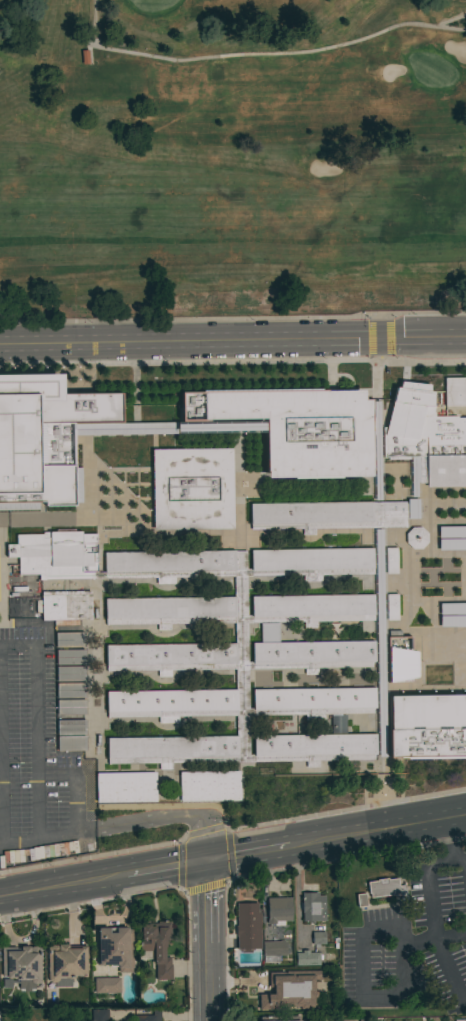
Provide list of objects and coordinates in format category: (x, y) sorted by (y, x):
road: (449, 20)
road: (426, 26)
road: (131, 53)
park: (232, 159)
road: (233, 339)
road: (232, 360)
road: (330, 375)
road: (350, 385)
building: (453, 392)
road: (134, 395)
building: (465, 398)
road: (79, 429)
road: (129, 429)
building: (301, 429)
road: (375, 430)
building: (44, 435)
building: (425, 438)
road: (393, 466)
road: (149, 468)
road: (307, 476)
road: (238, 481)
building: (192, 489)
road: (419, 489)
road: (439, 503)
road: (26, 505)
building: (412, 508)
building: (327, 516)
road: (3, 517)
road: (62, 517)
road: (431, 521)
road: (430, 528)
road: (377, 530)
building: (451, 531)
road: (374, 532)
building: (416, 537)
building: (451, 544)
road: (433, 553)
building: (55, 554)
building: (390, 561)
road: (446, 561)
building: (167, 562)
building: (310, 562)
road: (432, 569)
road: (1, 571)
road: (402, 576)
road: (463, 576)
road: (320, 578)
road: (431, 578)
road: (239, 580)
road: (145, 581)
road: (433, 587)
road: (444, 593)
road: (434, 600)
building: (65, 606)
building: (391, 607)
building: (169, 608)
building: (452, 608)
building: (310, 609)
road: (435, 615)
building: (452, 621)
building: (64, 622)
road: (235, 625)
road: (76, 628)
road: (442, 631)
building: (69, 639)
road: (420, 645)
building: (309, 653)
building: (169, 654)
building: (70, 657)
road: (457, 658)
building: (400, 660)
road: (249, 672)
building: (70, 673)
road: (423, 686)
building: (70, 690)
road: (240, 694)
road: (88, 696)
road: (99, 701)
building: (171, 701)
building: (313, 701)
building: (70, 706)
road: (368, 719)
road: (37, 723)
building: (71, 727)
building: (427, 727)
building: (71, 743)
building: (315, 744)
building: (174, 747)
road: (73, 752)
parking lot: (35, 758)
road: (148, 769)
road: (314, 770)
road: (75, 784)
building: (208, 785)
building: (125, 786)
road: (344, 809)
road: (0, 813)
road: (169, 816)
road: (204, 829)
road: (335, 835)
road: (47, 836)
road: (451, 848)
road: (93, 855)
traffic signals: (205, 859)
road: (102, 876)
building: (388, 887)
building: (361, 900)
road: (430, 905)
building: (312, 907)
building: (278, 910)
building: (248, 927)
building: (318, 938)
road: (207, 940)
building: (156, 945)
building: (115, 948)
building: (273, 951)
building: (307, 958)
building: (66, 962)
building: (22, 964)
building: (302, 976)
building: (107, 985)
building: (269, 990)
building: (99, 1015)
building: (148, 1016)
building: (279, 1018)
building: (460, 1020)

